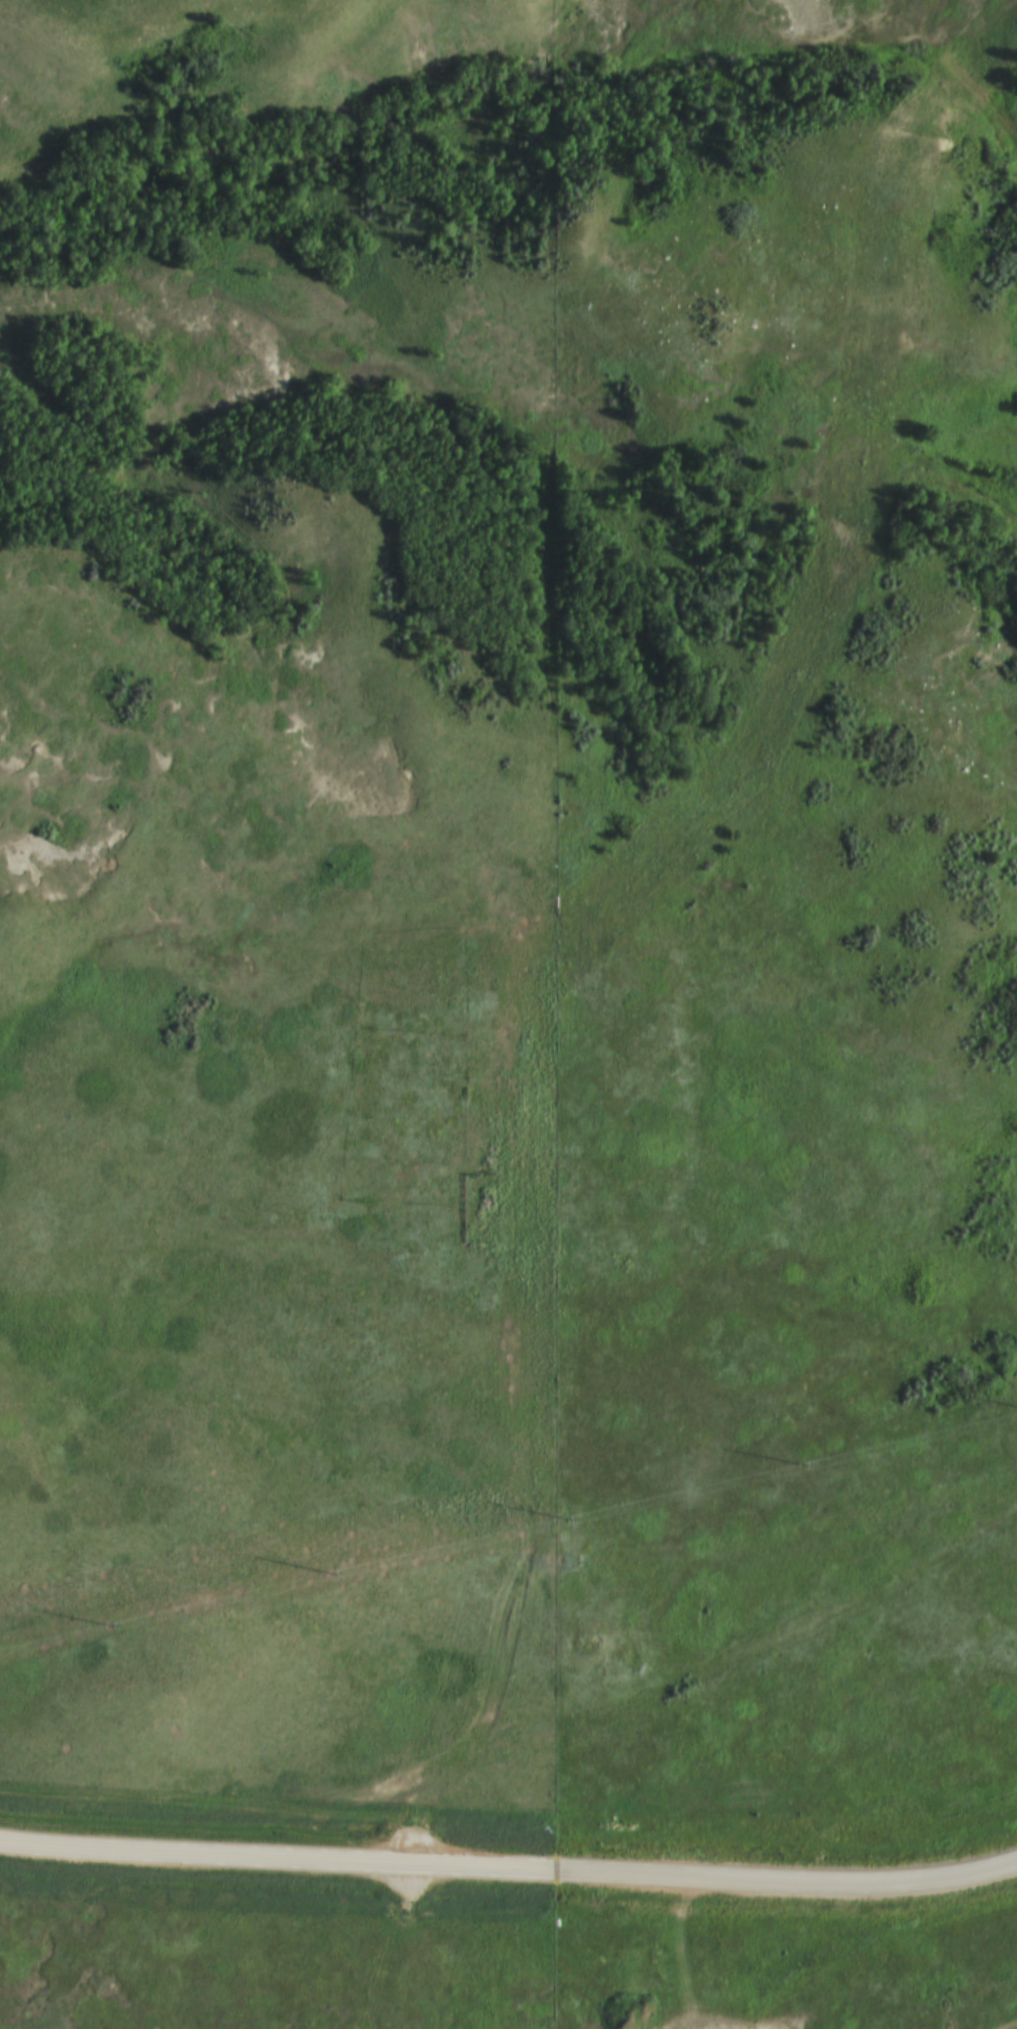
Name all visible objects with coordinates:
road: (510, 1873)
road: (421, 1948)
road: (390, 1966)
road: (1009, 2025)

